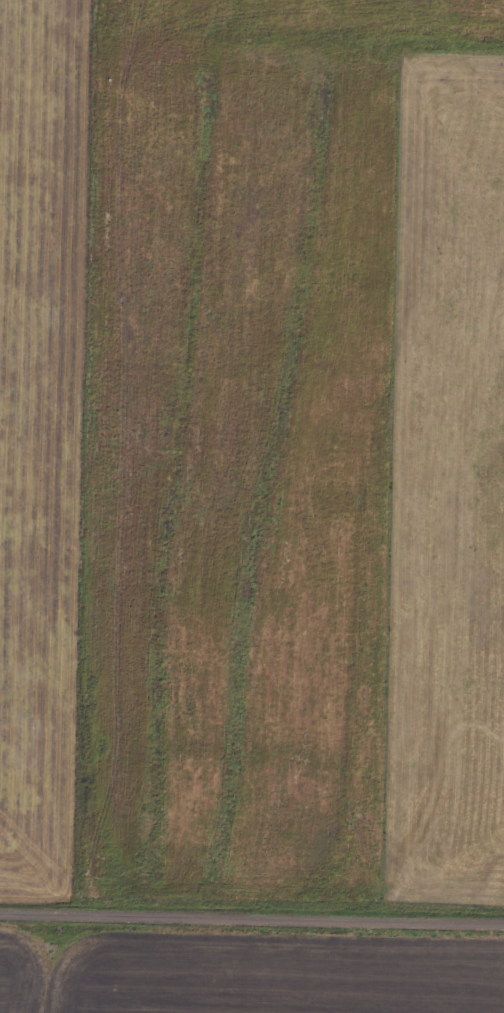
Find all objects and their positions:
road: (252, 918)

